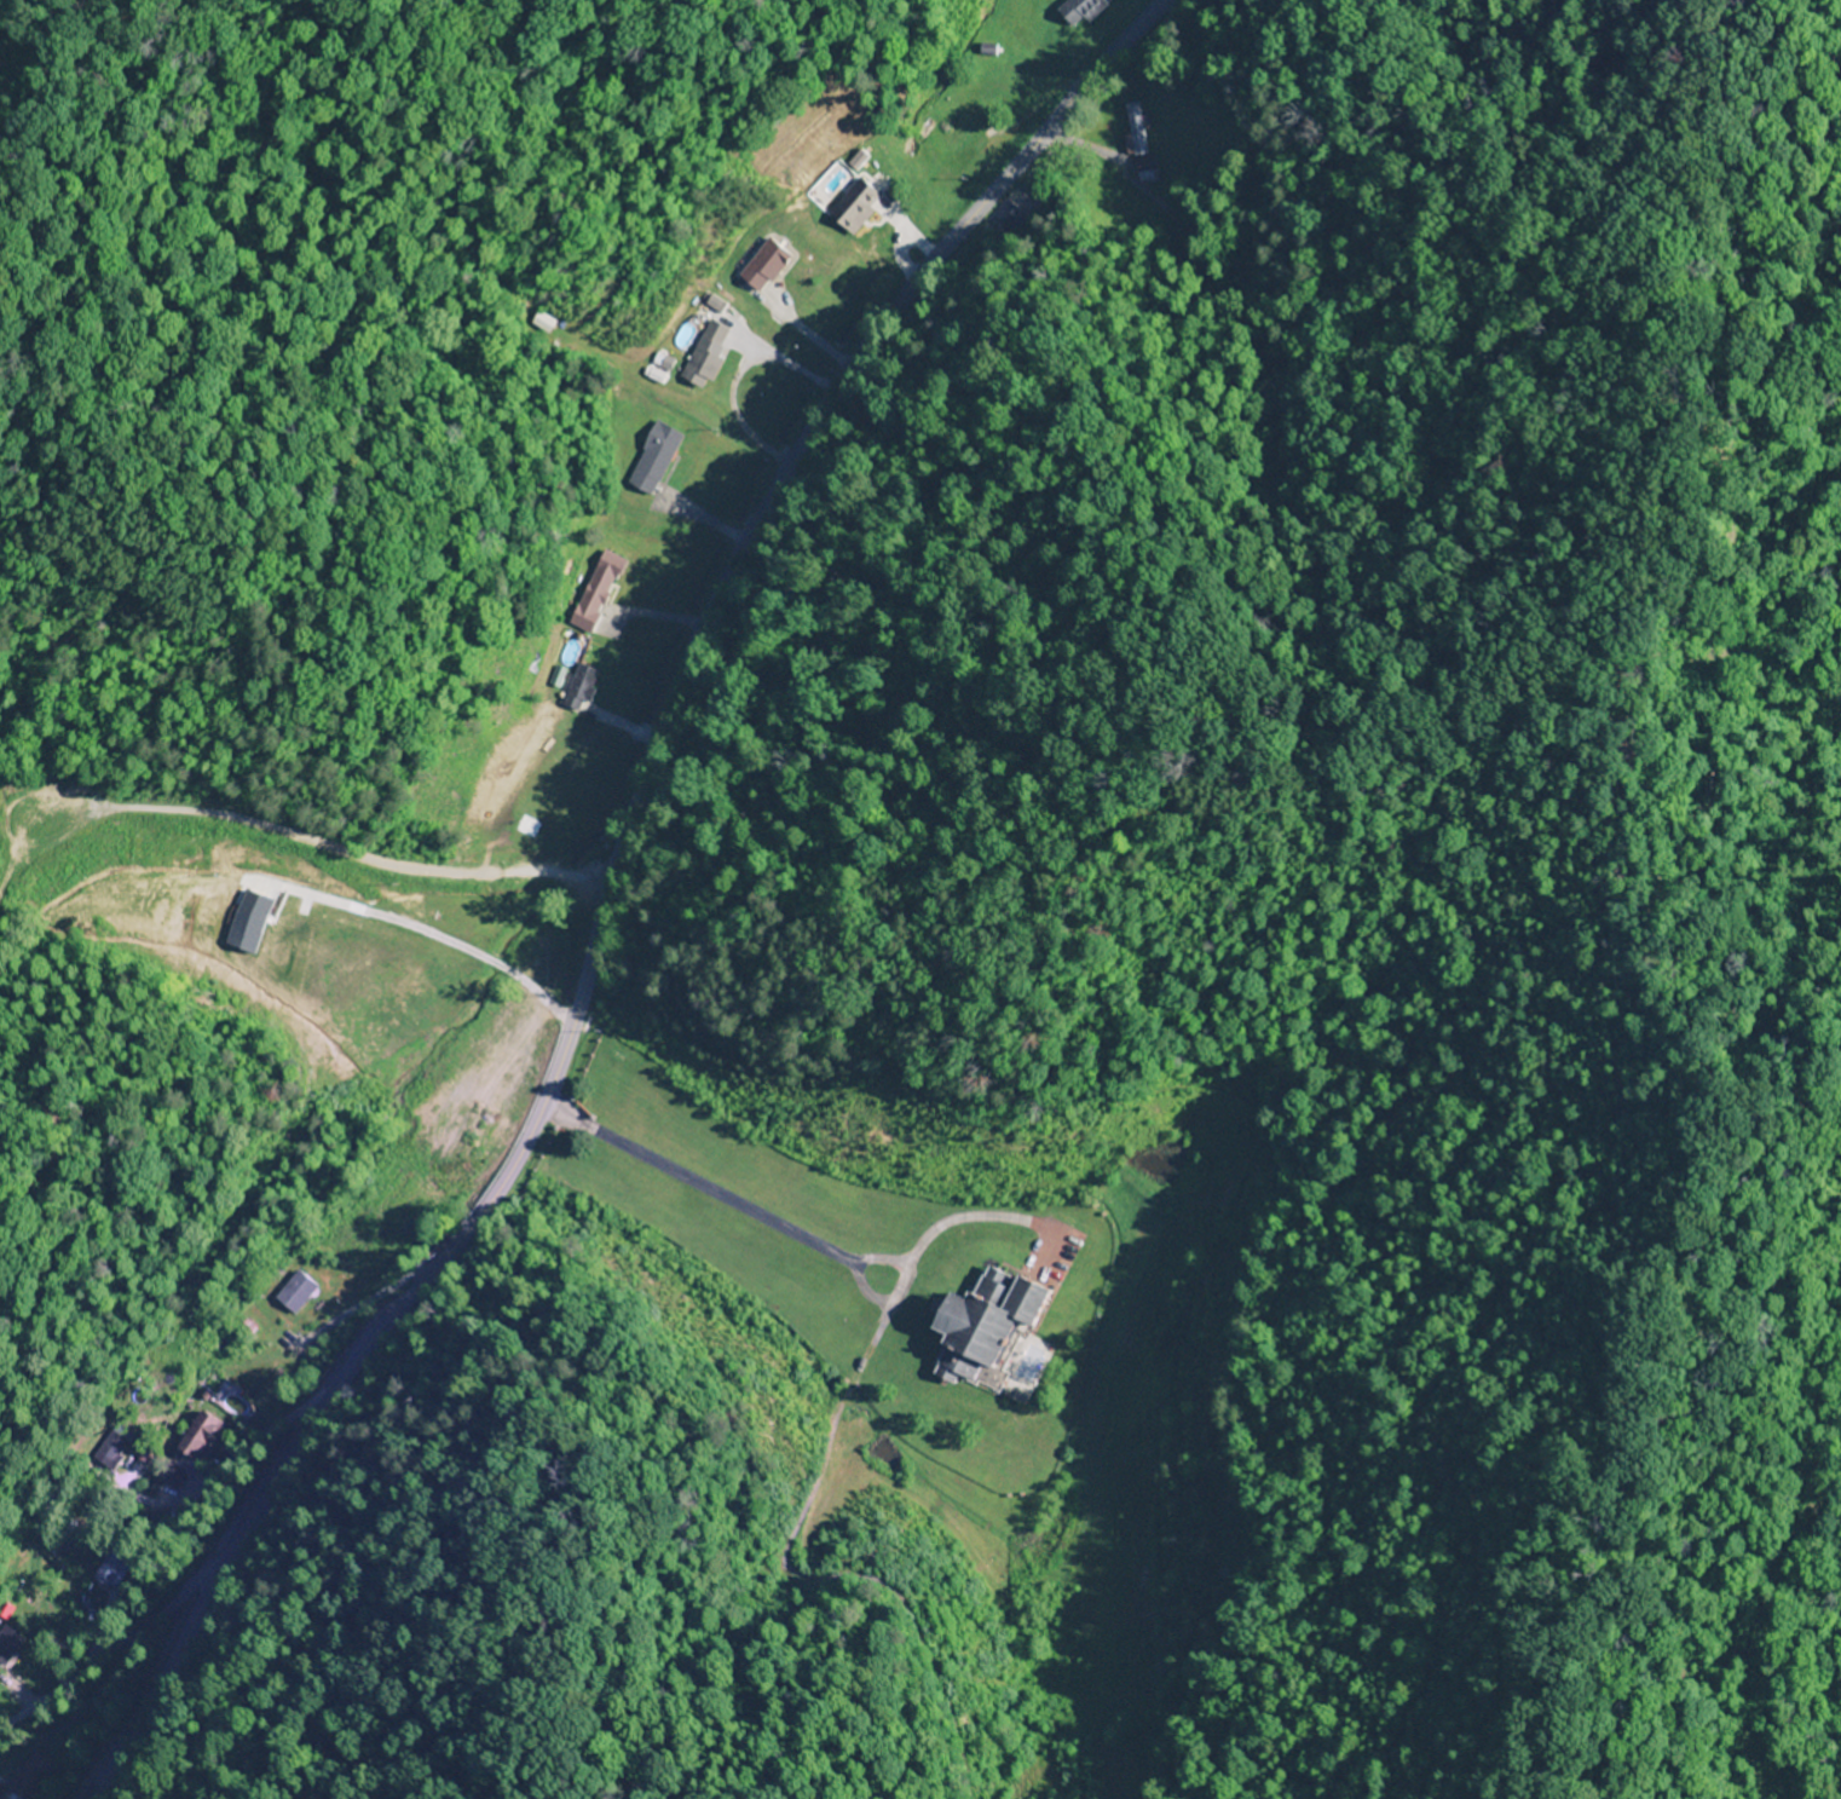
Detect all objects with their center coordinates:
building: (1081, 8)
building: (1138, 149)
building: (850, 207)
building: (761, 267)
road: (1410, 310)
building: (702, 356)
building: (588, 594)
building: (573, 687)
road: (610, 888)
building: (262, 919)
building: (525, 959)
building: (293, 1292)
road: (393, 1296)
building: (979, 1328)
road: (322, 1337)
building: (196, 1436)
road: (236, 1483)
building: (6, 1644)
road: (103, 1680)
road: (4, 1753)
building: (30, 1780)

